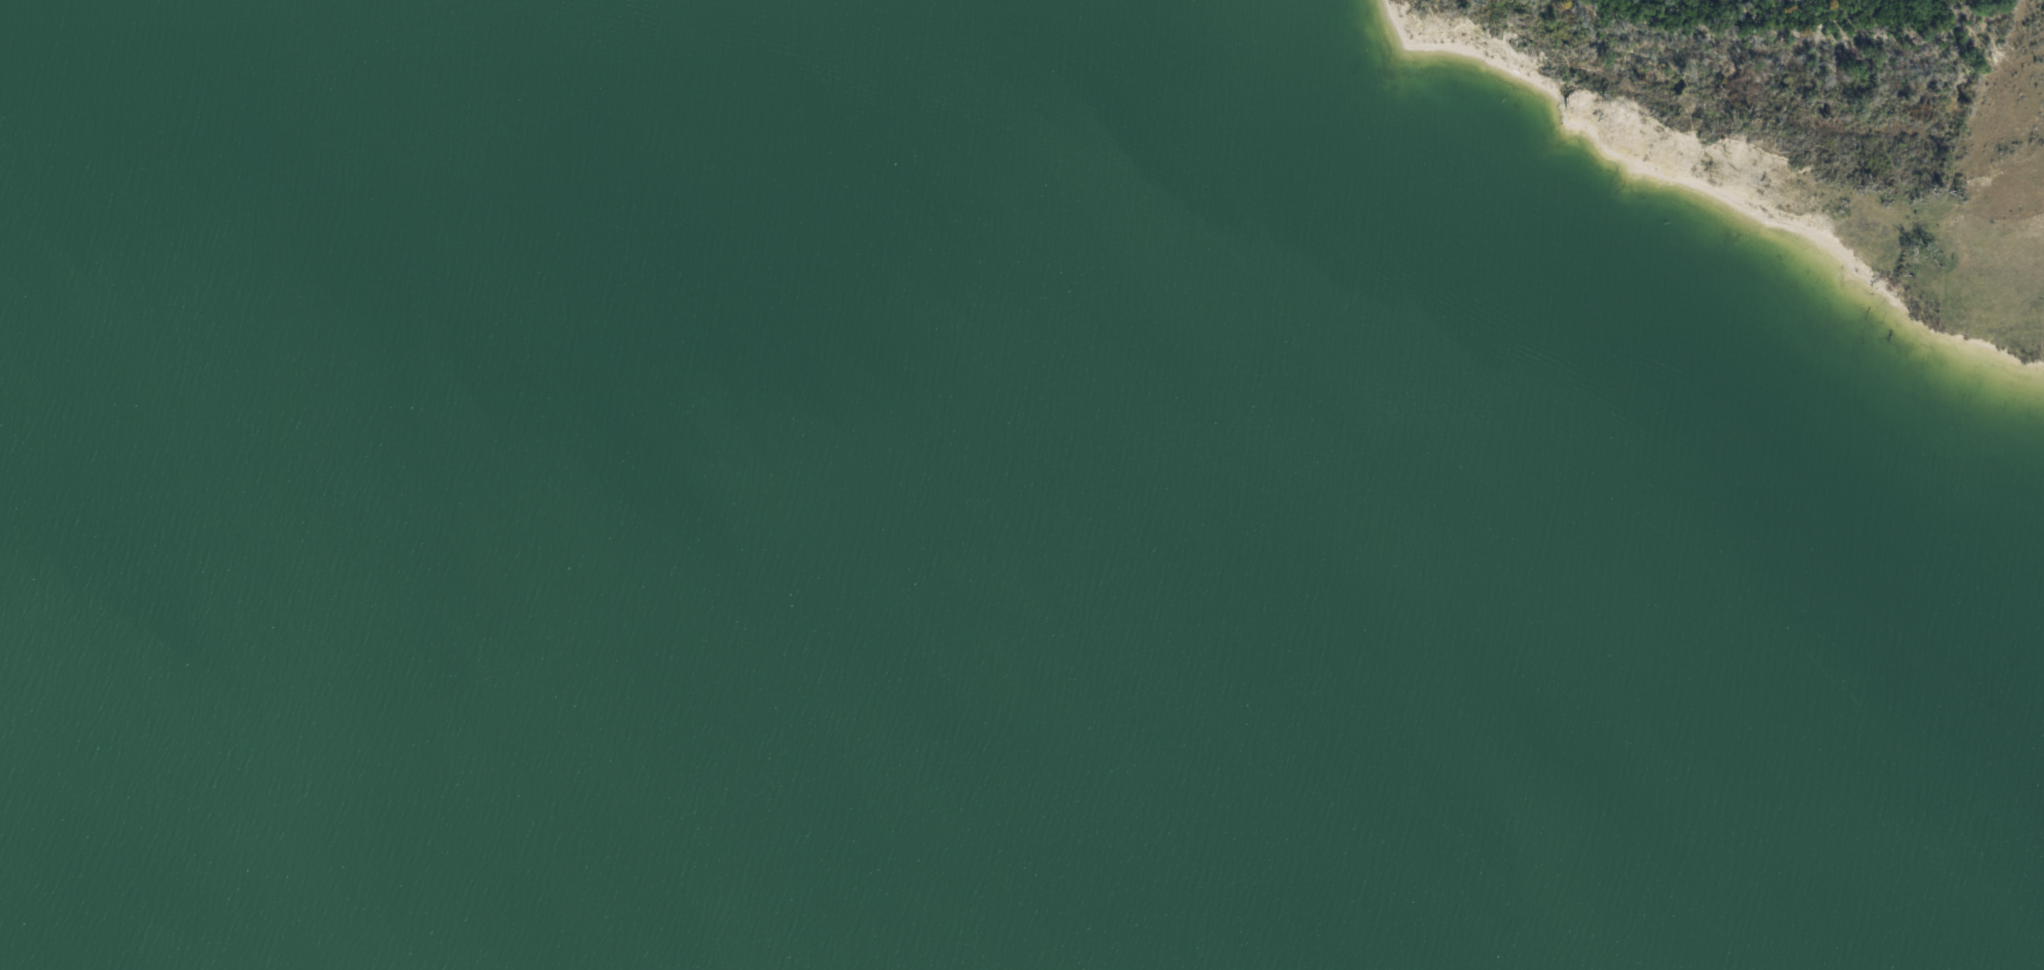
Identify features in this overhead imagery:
river: (45, 929)

